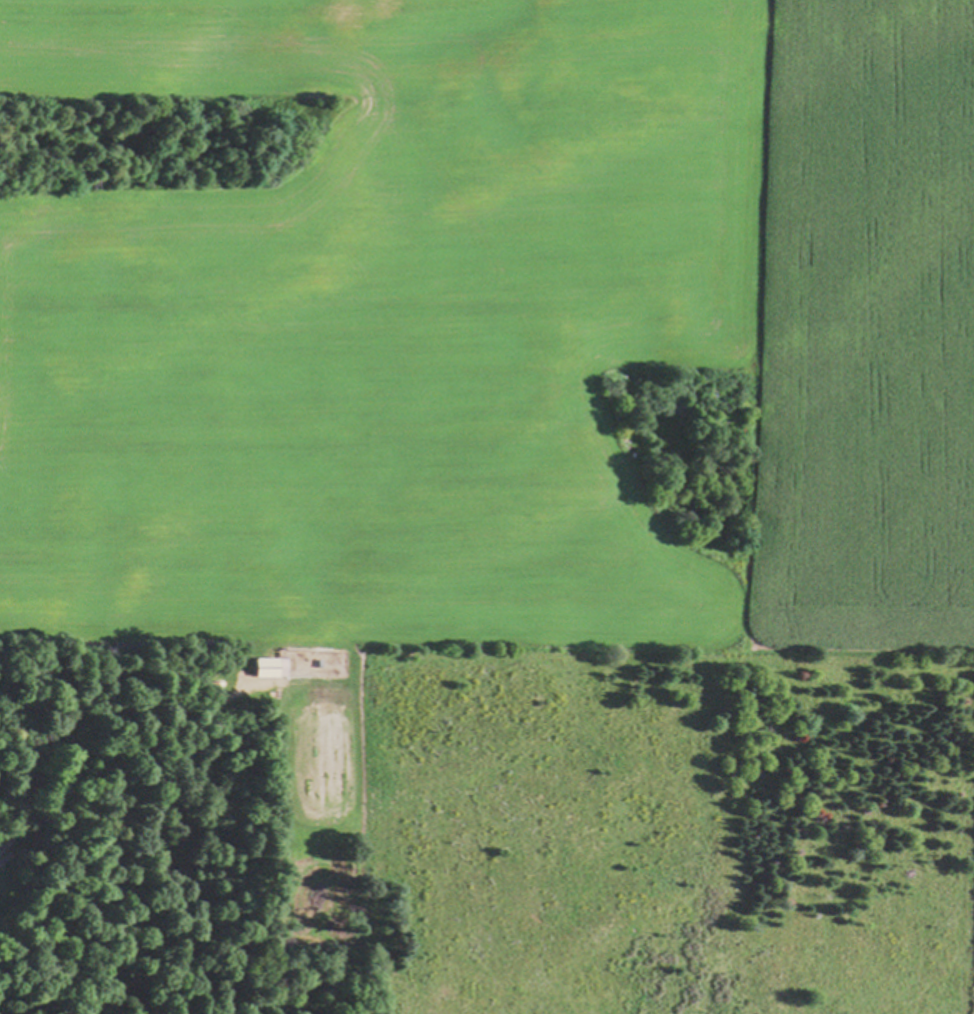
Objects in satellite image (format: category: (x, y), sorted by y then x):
building: (270, 670)

